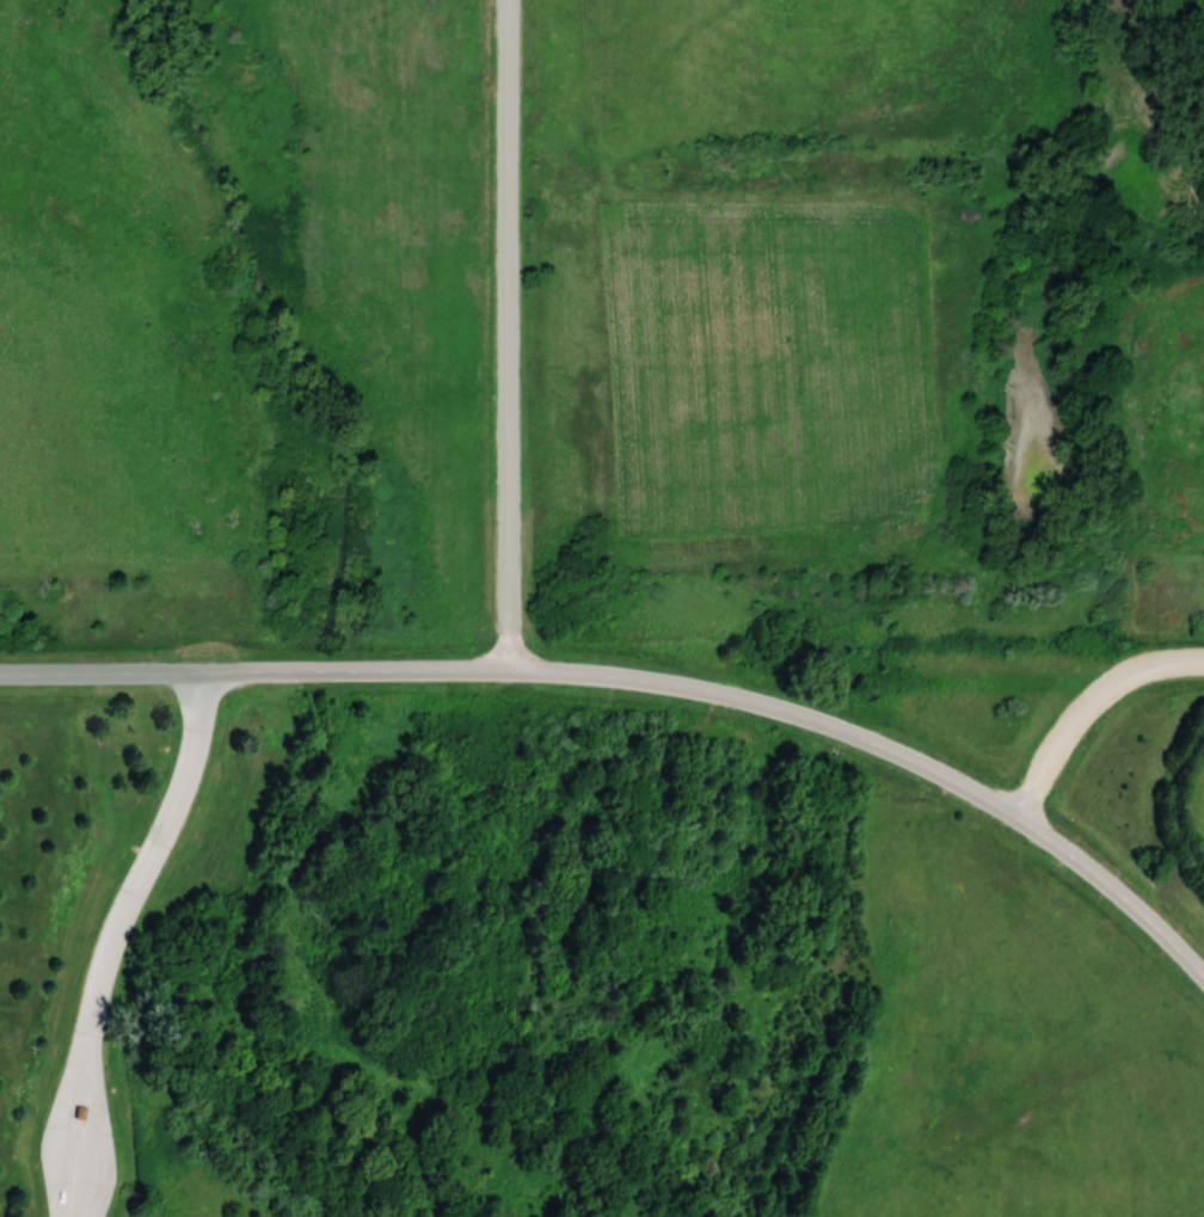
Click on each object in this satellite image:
road: (508, 334)
road: (254, 672)
road: (1085, 705)
road: (770, 707)
road: (158, 831)
road: (1113, 890)
park: (256, 945)
road: (62, 1099)
road: (92, 1101)
toll booth: (59, 1117)

